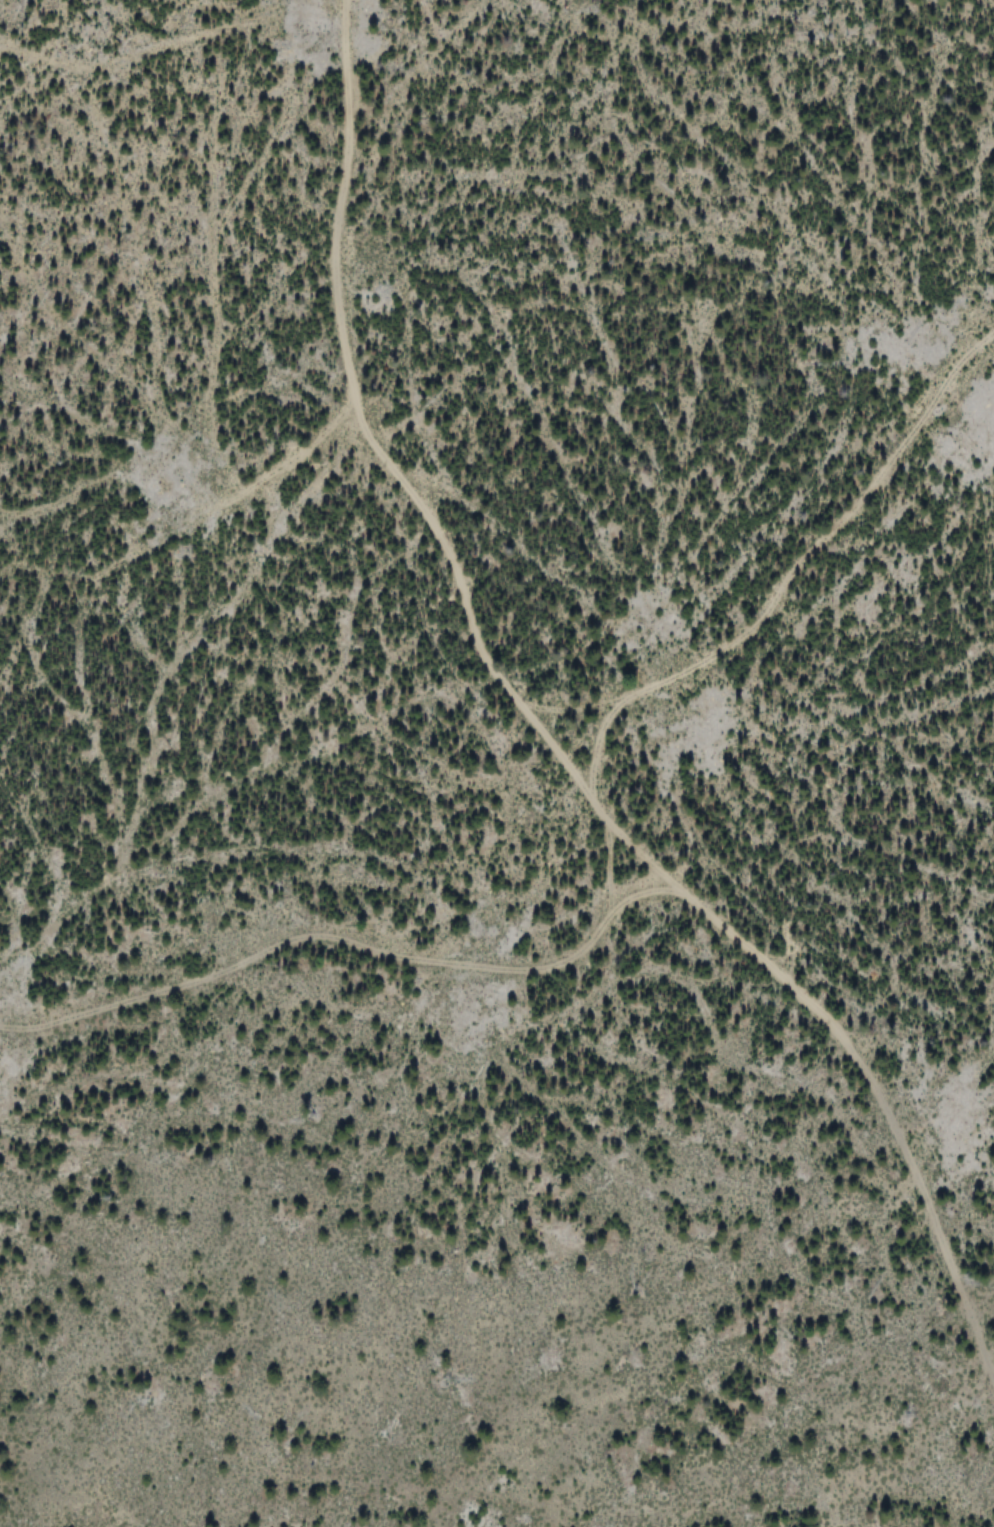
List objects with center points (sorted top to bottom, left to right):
road: (395, 834)

